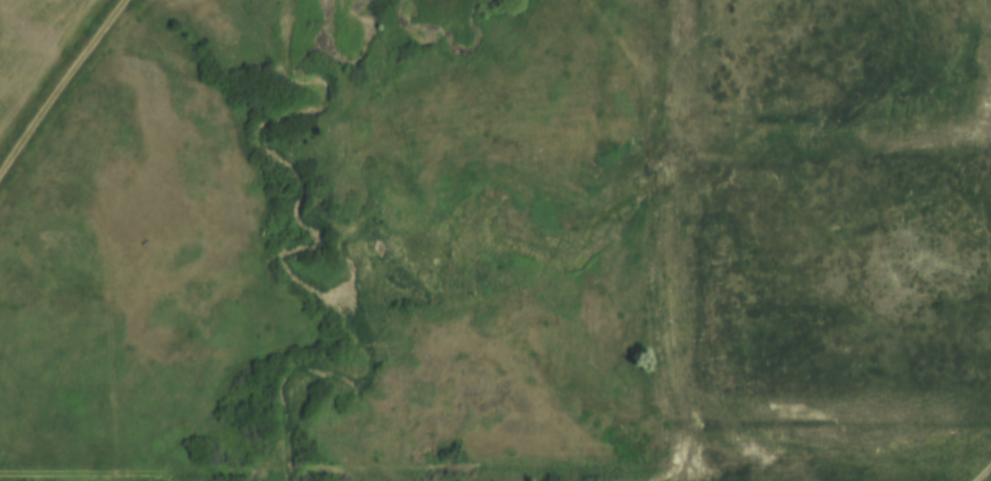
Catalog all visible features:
road: (63, 88)
road: (969, 461)

